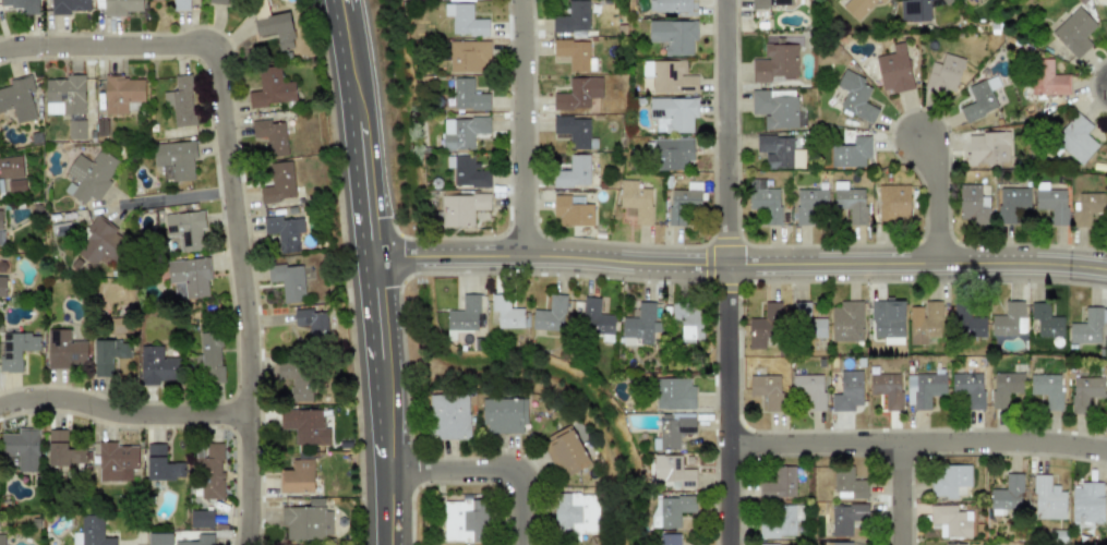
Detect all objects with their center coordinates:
building: (882, 1)
building: (217, 3)
building: (970, 3)
building: (24, 4)
building: (179, 4)
building: (70, 5)
building: (674, 5)
building: (118, 7)
building: (857, 7)
building: (915, 10)
building: (777, 13)
building: (573, 17)
building: (464, 20)
building: (275, 28)
building: (1075, 31)
building: (675, 36)
building: (469, 57)
building: (775, 63)
building: (550, 64)
building: (897, 69)
building: (946, 73)
building: (1046, 77)
building: (673, 78)
building: (272, 88)
building: (121, 93)
building: (580, 93)
building: (467, 96)
building: (857, 96)
building: (17, 99)
building: (982, 99)
building: (180, 100)
building: (67, 101)
building: (775, 109)
building: (675, 111)
road: (526, 126)
building: (462, 132)
building: (574, 132)
building: (270, 135)
building: (1075, 138)
building: (987, 149)
building: (778, 153)
building: (852, 153)
building: (671, 155)
building: (176, 159)
building: (10, 167)
building: (467, 172)
building: (575, 172)
building: (89, 177)
building: (279, 182)
building: (15, 185)
road: (226, 190)
road: (937, 197)
road: (166, 199)
building: (637, 199)
building: (765, 199)
building: (900, 201)
building: (849, 203)
building: (1012, 203)
building: (683, 204)
building: (815, 204)
building: (1054, 204)
building: (972, 206)
building: (1086, 207)
building: (459, 209)
building: (575, 213)
building: (0, 219)
building: (185, 229)
building: (284, 231)
building: (98, 249)
road: (737, 263)
road: (370, 271)
road: (727, 272)
building: (188, 277)
building: (288, 281)
building: (2, 286)
building: (505, 311)
building: (550, 315)
building: (462, 316)
building: (597, 316)
building: (888, 317)
building: (973, 318)
building: (1048, 318)
building: (312, 320)
building: (688, 320)
building: (1011, 320)
building: (642, 322)
building: (807, 322)
building: (847, 322)
building: (928, 324)
building: (767, 325)
building: (1087, 330)
building: (16, 349)
building: (64, 349)
building: (108, 355)
building: (208, 358)
building: (157, 365)
building: (297, 380)
building: (809, 387)
building: (889, 387)
building: (970, 388)
building: (1004, 388)
building: (766, 389)
building: (923, 389)
building: (1048, 389)
building: (850, 391)
building: (1085, 391)
building: (675, 393)
building: (505, 415)
road: (124, 416)
building: (447, 416)
building: (304, 425)
building: (676, 429)
building: (22, 448)
building: (63, 450)
building: (569, 451)
road: (919, 452)
building: (116, 461)
building: (160, 464)
road: (488, 470)
building: (676, 472)
building: (208, 473)
building: (298, 474)
building: (951, 481)
building: (850, 484)
building: (780, 486)
building: (1009, 493)
road: (904, 499)
building: (1049, 500)
building: (1090, 505)
building: (581, 513)
building: (673, 513)
building: (201, 519)
building: (306, 519)
building: (466, 519)
building: (953, 519)
building: (847, 520)
building: (779, 523)
building: (91, 531)
building: (159, 538)
building: (670, 538)
building: (1, 540)
building: (198, 541)
building: (839, 543)
building: (781, 544)
building: (953, 544)

